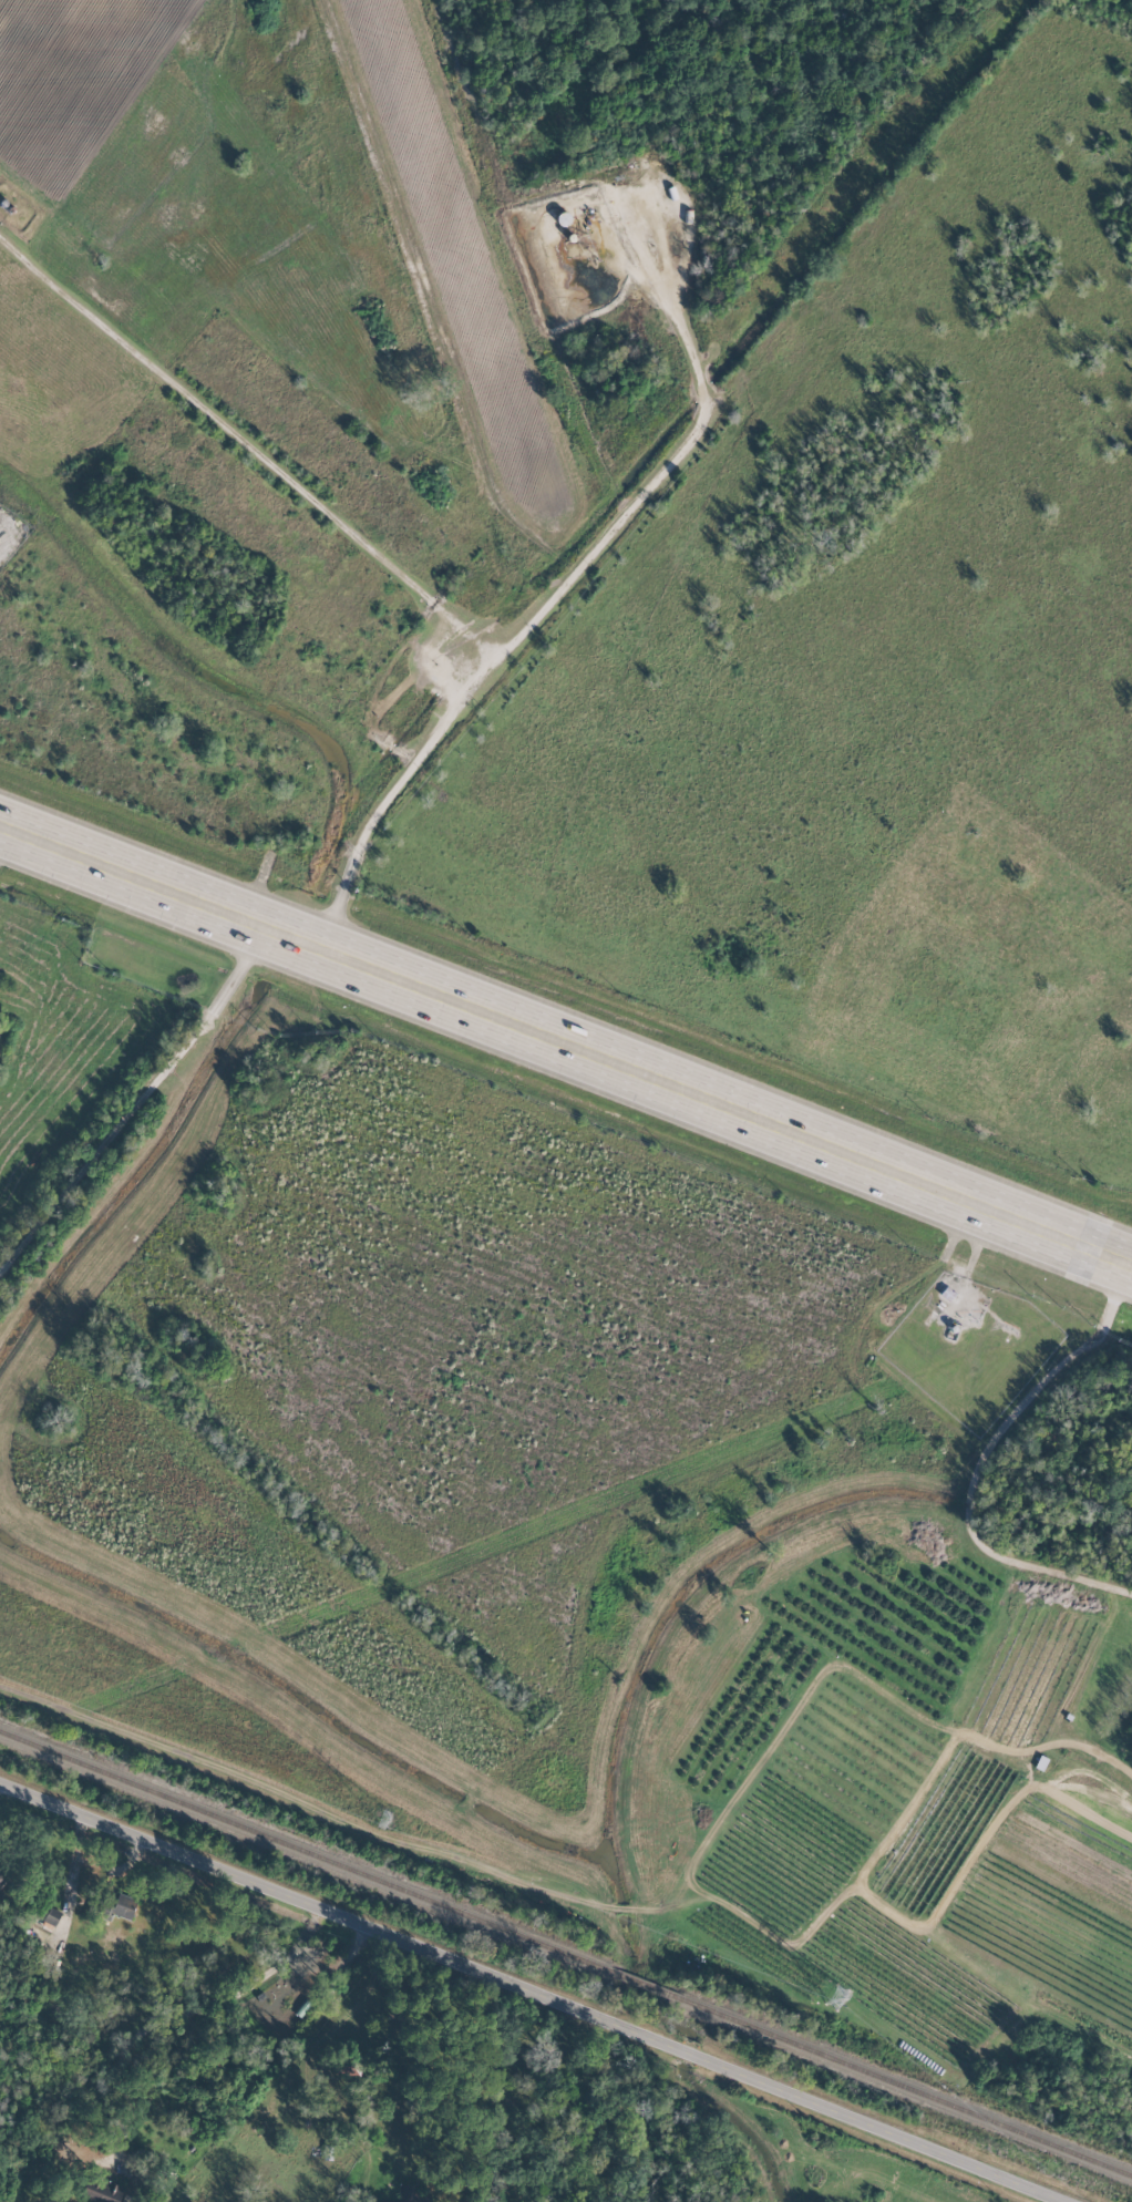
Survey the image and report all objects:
road: (248, 450)
road: (543, 609)
road: (2, 833)
road: (566, 1045)
road: (140, 1104)
road: (973, 1255)
road: (981, 1463)
road: (1078, 1742)
power tower: (383, 1817)
building: (2, 1877)
building: (122, 1905)
road: (328, 1911)
railway: (566, 1953)
power tower: (836, 1996)
road: (853, 2122)
building: (103, 2190)
building: (410, 2194)

